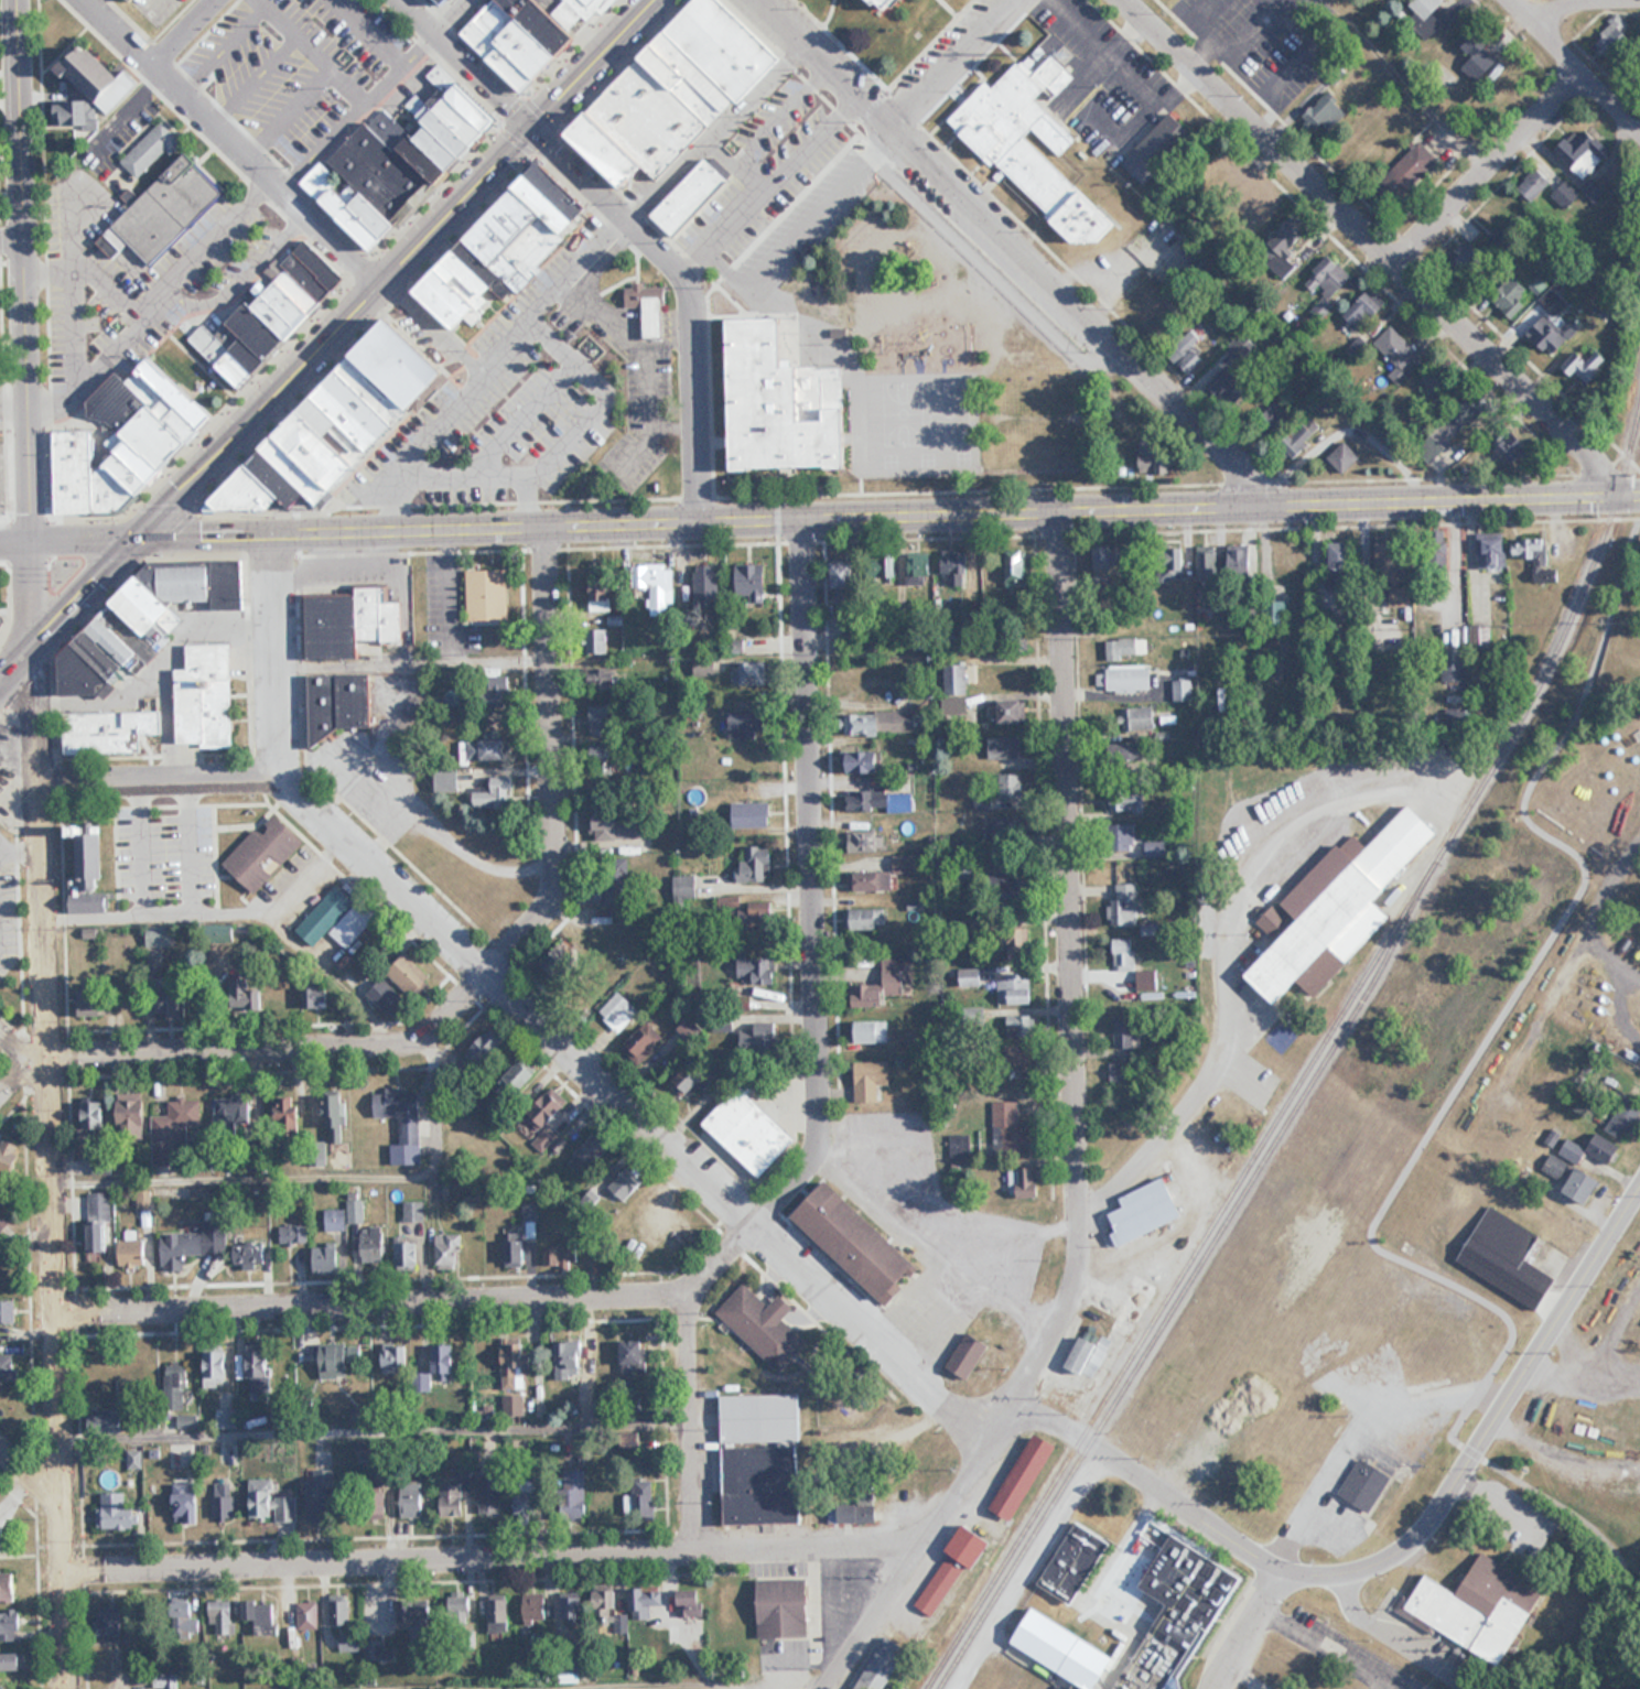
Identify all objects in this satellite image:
building: (129, 1)
building: (446, 2)
road: (1585, 2)
building: (884, 4)
building: (1425, 7)
road: (187, 33)
building: (530, 35)
building: (1614, 39)
building: (1478, 56)
road: (464, 62)
road: (950, 63)
road: (1577, 64)
building: (101, 77)
building: (235, 86)
building: (676, 94)
building: (79, 111)
building: (1324, 113)
road: (233, 140)
building: (1031, 144)
building: (1158, 150)
building: (1583, 152)
building: (401, 161)
building: (1409, 166)
road: (1487, 166)
building: (1535, 183)
building: (1577, 195)
building: (691, 197)
building: (160, 202)
building: (1255, 202)
building: (1498, 239)
road: (1370, 242)
building: (1285, 245)
road: (11, 246)
building: (507, 251)
road: (1018, 252)
building: (1469, 257)
road: (979, 259)
road: (393, 267)
road: (574, 268)
road: (22, 269)
building: (1327, 283)
road: (683, 291)
building: (1511, 295)
building: (649, 307)
building: (1363, 308)
building: (271, 313)
road: (430, 328)
building: (1549, 335)
building: (1186, 350)
building: (1399, 353)
building: (1584, 367)
building: (1434, 380)
road: (600, 389)
building: (1227, 390)
building: (786, 402)
road: (522, 416)
building: (342, 423)
building: (1450, 427)
building: (1303, 436)
building: (127, 441)
road: (421, 444)
building: (1515, 445)
building: (1154, 456)
building: (1344, 457)
park: (591, 469)
road: (463, 476)
road: (833, 518)
traffic signals: (138, 537)
road: (13, 539)
building: (1530, 544)
building: (1497, 551)
building: (1345, 554)
building: (1113, 556)
building: (1174, 556)
building: (1389, 557)
building: (1242, 563)
building: (1209, 564)
building: (1288, 564)
building: (918, 569)
building: (953, 569)
building: (1016, 569)
road: (1445, 569)
building: (861, 571)
building: (753, 578)
building: (709, 583)
building: (658, 585)
building: (601, 592)
building: (487, 595)
building: (0, 606)
road: (68, 608)
building: (1274, 614)
building: (147, 620)
building: (350, 622)
building: (1481, 637)
building: (597, 640)
building: (1126, 648)
railway: (1550, 660)
building: (1455, 663)
building: (753, 673)
building: (1129, 678)
building: (605, 679)
building: (954, 690)
building: (1183, 691)
building: (496, 693)
building: (206, 696)
building: (342, 703)
building: (1012, 711)
building: (1136, 718)
building: (749, 722)
building: (882, 722)
building: (602, 725)
building: (110, 730)
building: (1004, 747)
building: (486, 749)
building: (1136, 757)
building: (603, 758)
building: (863, 761)
road: (554, 762)
building: (447, 780)
road: (160, 786)
building: (1011, 787)
building: (493, 793)
building: (880, 799)
building: (1126, 801)
building: (752, 814)
building: (617, 825)
building: (1006, 826)
building: (1123, 840)
building: (863, 841)
building: (1156, 848)
building: (265, 852)
building: (905, 864)
building: (756, 865)
building: (88, 871)
building: (870, 880)
road: (813, 884)
building: (690, 888)
building: (1013, 891)
building: (616, 895)
building: (1125, 903)
building: (1340, 909)
building: (338, 919)
building: (866, 919)
building: (222, 934)
building: (159, 935)
road: (1223, 936)
building: (1124, 955)
building: (755, 970)
building: (411, 976)
building: (353, 977)
building: (971, 977)
building: (887, 982)
road: (1072, 988)
building: (1015, 989)
building: (245, 996)
building: (175, 997)
building: (91, 998)
building: (387, 998)
road: (1507, 998)
building: (315, 1000)
building: (618, 1011)
building: (1021, 1026)
road: (546, 1028)
building: (872, 1031)
building: (1127, 1031)
building: (643, 1042)
road: (22, 1050)
building: (485, 1051)
road: (282, 1052)
building: (1017, 1057)
building: (1119, 1072)
road: (22, 1074)
building: (518, 1074)
building: (689, 1078)
building: (872, 1080)
road: (52, 1113)
building: (96, 1115)
building: (282, 1116)
building: (133, 1117)
building: (234, 1117)
building: (547, 1117)
building: (1623, 1117)
building: (336, 1118)
building: (402, 1123)
building: (175, 1127)
building: (1008, 1128)
building: (749, 1130)
building: (589, 1155)
building: (8, 1156)
building: (623, 1179)
building: (1575, 1179)
building: (1019, 1182)
building: (356, 1211)
building: (414, 1211)
building: (1145, 1211)
building: (334, 1220)
building: (2, 1221)
road: (1178, 1221)
building: (98, 1222)
building: (290, 1234)
building: (857, 1242)
building: (191, 1244)
building: (374, 1245)
building: (249, 1249)
building: (132, 1250)
building: (450, 1250)
building: (562, 1250)
building: (518, 1254)
building: (407, 1256)
building: (1508, 1258)
building: (327, 1259)
railway: (1169, 1291)
railway: (1182, 1295)
road: (421, 1303)
building: (8, 1312)
building: (764, 1324)
building: (1081, 1354)
building: (969, 1355)
building: (633, 1356)
building: (393, 1358)
building: (569, 1360)
building: (334, 1361)
building: (443, 1362)
building: (514, 1364)
building: (9, 1368)
building: (216, 1368)
building: (259, 1368)
road: (1587, 1373)
building: (421, 1382)
building: (174, 1384)
building: (514, 1405)
building: (281, 1416)
road: (691, 1423)
road: (1487, 1430)
building: (623, 1442)
building: (763, 1459)
building: (1026, 1476)
road: (33, 1483)
building: (1366, 1484)
road: (1154, 1485)
building: (574, 1491)
building: (490, 1494)
building: (320, 1497)
building: (412, 1498)
building: (451, 1501)
building: (528, 1501)
building: (223, 1502)
building: (270, 1503)
building: (186, 1504)
road: (1566, 1509)
building: (118, 1513)
building: (857, 1513)
road: (33, 1550)
road: (501, 1557)
building: (1073, 1561)
building: (958, 1565)
road: (914, 1567)
building: (9, 1588)
building: (645, 1601)
building: (602, 1604)
building: (690, 1607)
building: (1481, 1607)
building: (785, 1609)
building: (571, 1610)
building: (338, 1611)
building: (535, 1611)
building: (461, 1612)
building: (499, 1613)
building: (1178, 1614)
building: (307, 1615)
building: (260, 1616)
building: (417, 1618)
building: (110, 1624)
building: (10, 1626)
road: (1247, 1631)
building: (1048, 1639)
building: (11, 1663)
building: (164, 1681)

